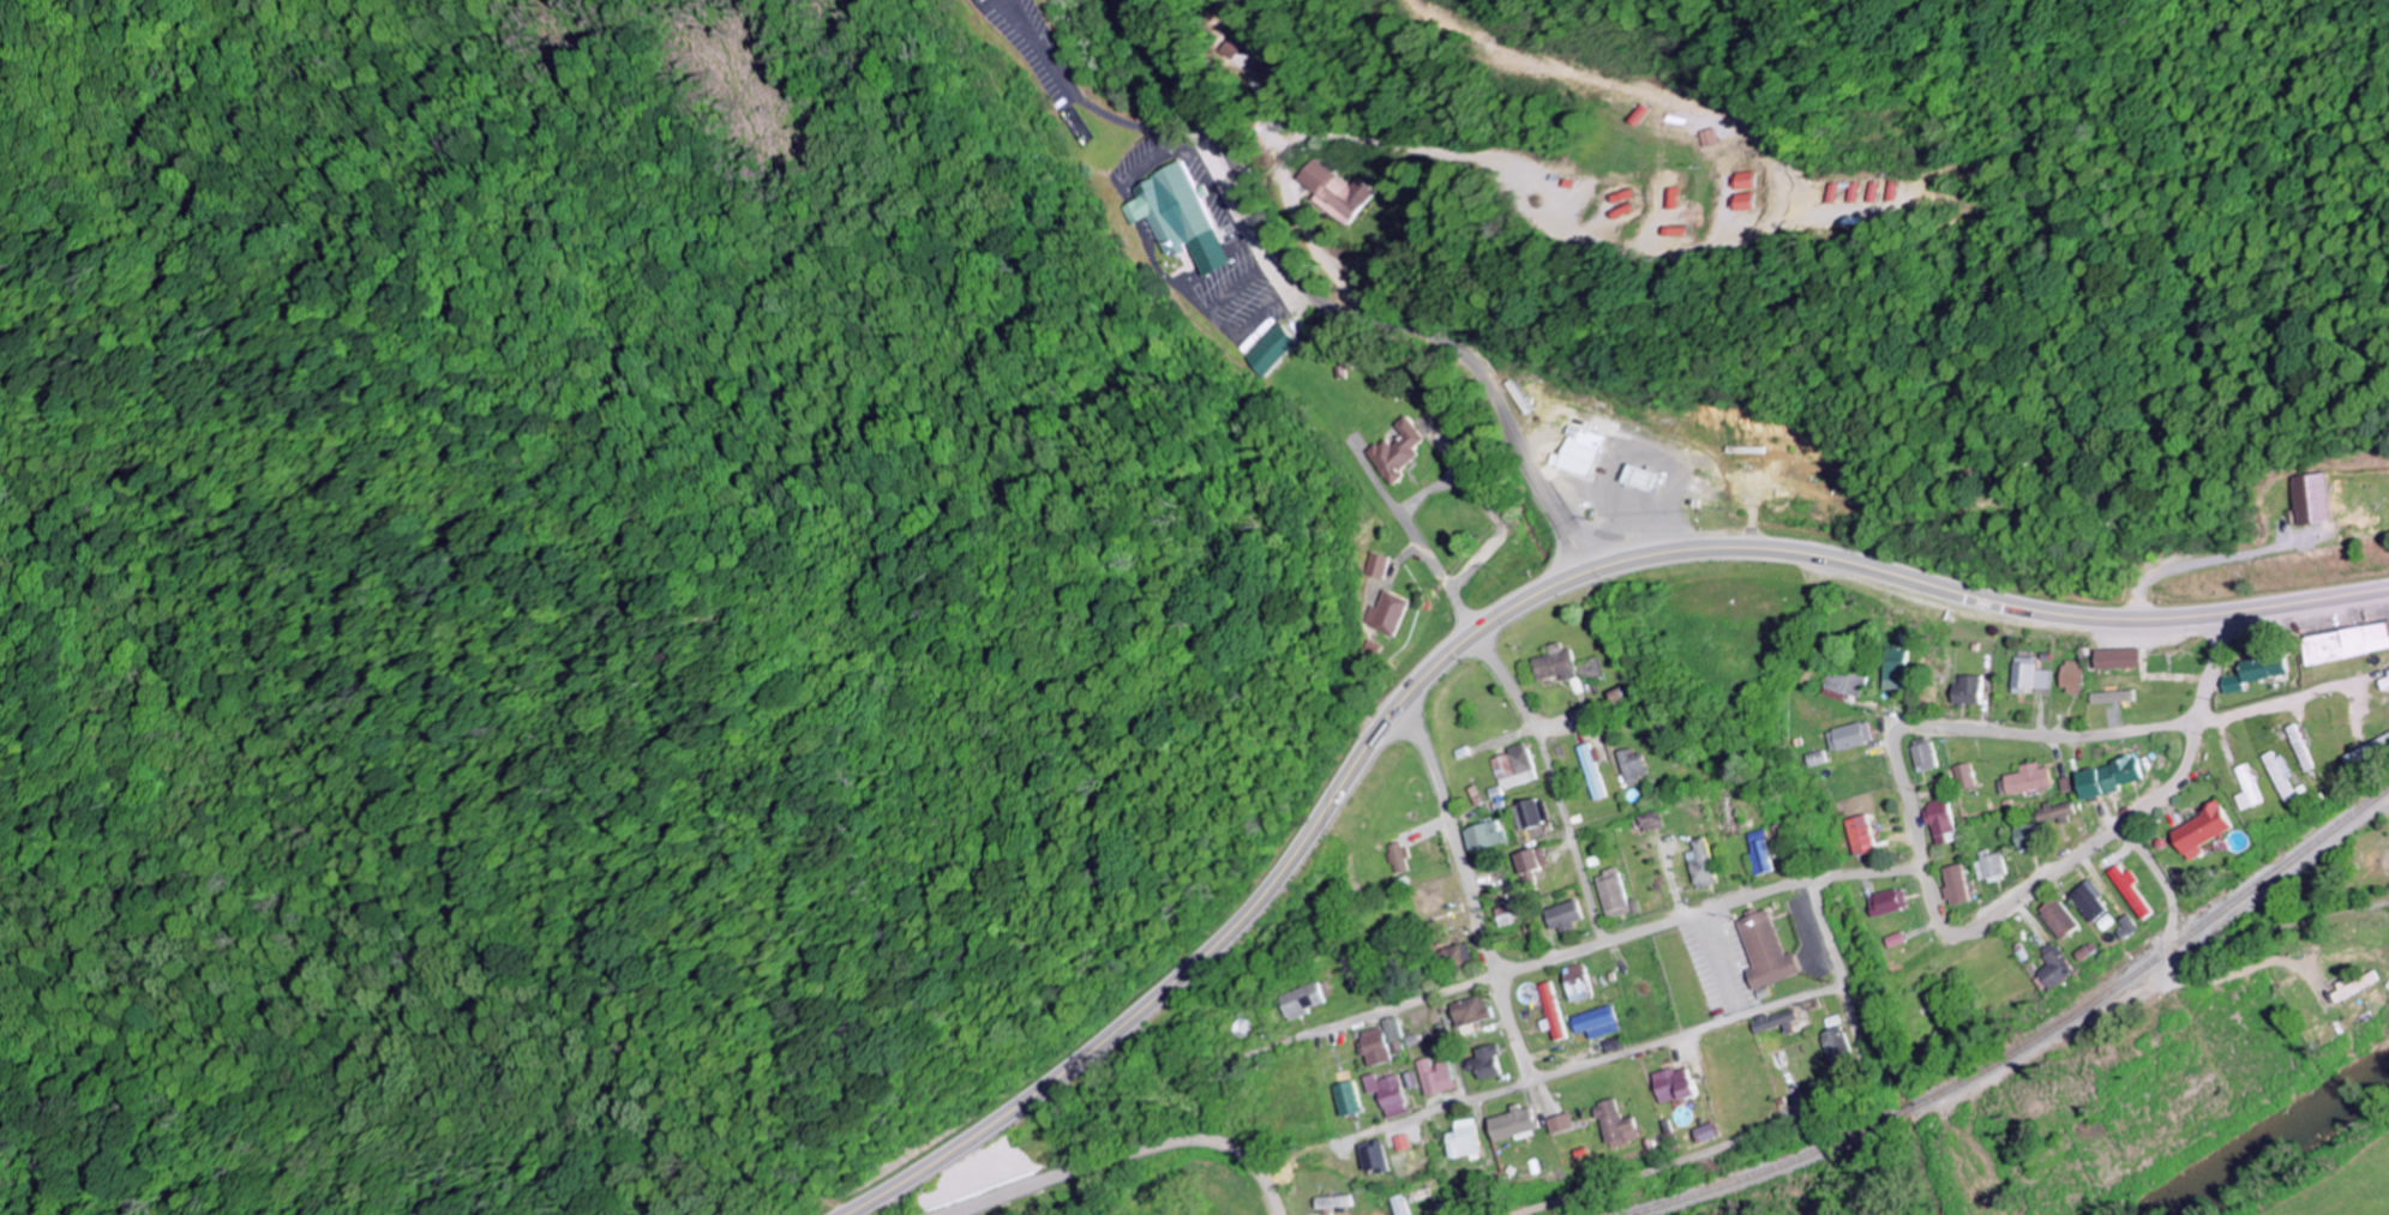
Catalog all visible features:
building: (972, 0)
building: (1238, 49)
building: (1748, 181)
building: (1338, 192)
building: (1881, 192)
building: (1839, 193)
building: (1861, 193)
building: (1751, 202)
building: (1175, 216)
road: (1343, 309)
building: (1263, 350)
building: (1578, 451)
building: (1394, 452)
building: (1638, 477)
building: (2315, 499)
building: (1374, 566)
road: (1987, 600)
building: (1385, 613)
building: (2346, 644)
building: (2115, 658)
building: (1554, 663)
building: (1892, 669)
building: (2253, 670)
building: (2027, 676)
building: (2070, 678)
building: (1843, 684)
building: (2383, 684)
road: (1509, 685)
building: (1965, 690)
building: (2108, 697)
road: (1986, 732)
road: (1549, 734)
building: (1849, 736)
building: (2299, 747)
building: (2367, 753)
building: (1923, 757)
building: (1817, 759)
building: (1631, 765)
building: (1509, 770)
building: (1590, 771)
building: (2279, 775)
building: (1963, 776)
building: (2105, 778)
building: (2025, 780)
building: (2246, 788)
building: (2053, 813)
building: (1529, 814)
building: (1649, 822)
building: (1940, 822)
building: (2198, 832)
building: (1481, 836)
building: (1861, 836)
road: (2108, 836)
road: (1453, 837)
building: (2025, 837)
road: (1571, 841)
building: (1392, 858)
building: (1527, 864)
building: (1699, 864)
building: (1991, 866)
building: (1956, 885)
building: (2130, 891)
building: (1610, 892)
road: (2171, 895)
building: (2089, 901)
building: (1889, 902)
road: (1707, 912)
road: (1247, 915)
building: (1502, 916)
building: (1561, 916)
building: (2058, 919)
building: (1766, 952)
building: (1452, 955)
building: (2054, 969)
building: (1574, 984)
building: (2355, 986)
road: (2142, 993)
road: (1850, 999)
building: (1302, 1000)
road: (1410, 1003)
building: (1466, 1011)
building: (1549, 1012)
building: (1776, 1022)
building: (1596, 1023)
road: (1512, 1029)
building: (1838, 1046)
building: (1370, 1047)
railway: (2021, 1048)
road: (1622, 1053)
building: (1481, 1063)
building: (1430, 1077)
building: (1673, 1085)
building: (1385, 1094)
building: (1344, 1100)
building: (1508, 1124)
building: (1557, 1124)
building: (1615, 1126)
building: (1705, 1133)
river: (2270, 1136)
building: (1459, 1141)
building: (1398, 1143)
road: (1128, 1154)
building: (1369, 1159)
road: (1667, 1163)
road: (2376, 1163)
building: (1393, 1205)

